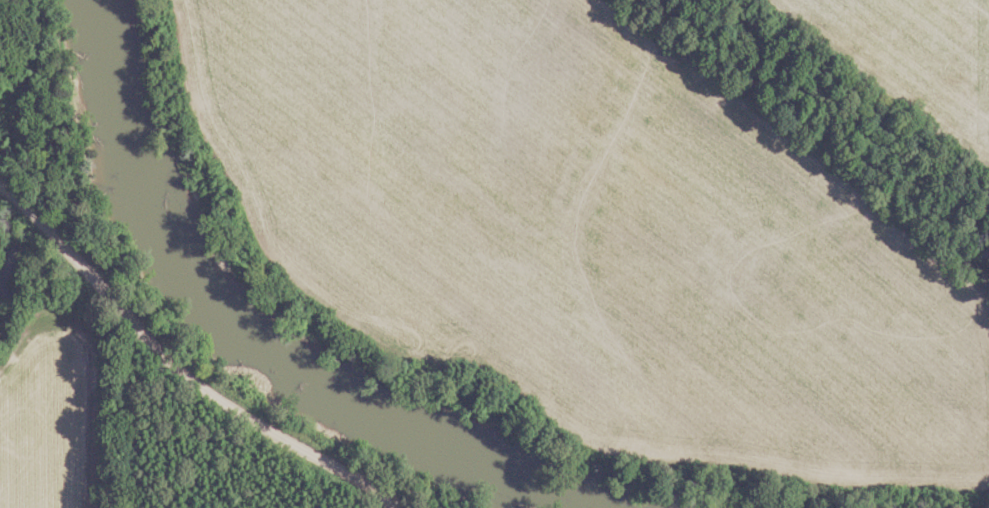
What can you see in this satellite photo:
road: (942, 62)
river: (265, 331)
road: (184, 367)

